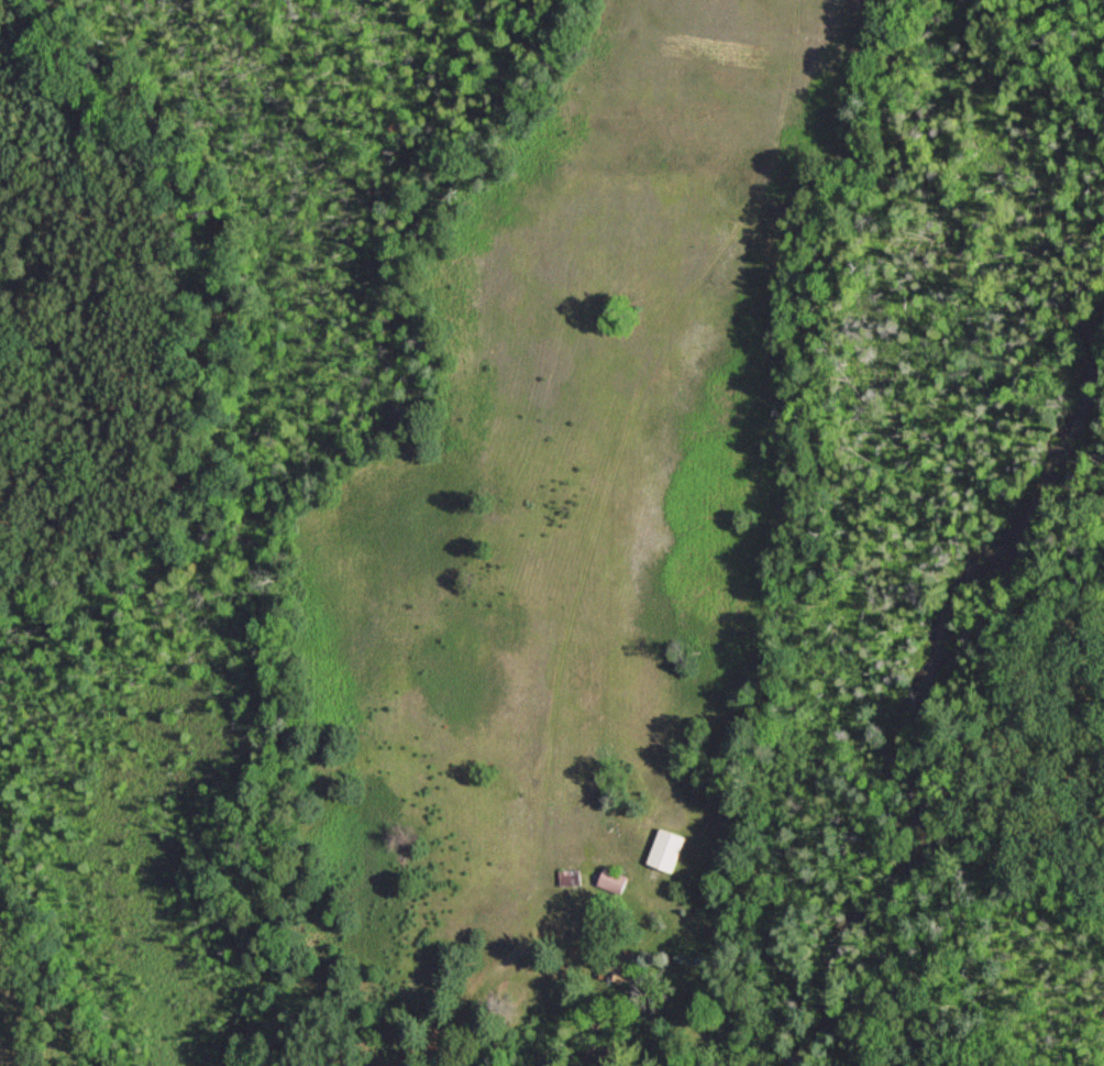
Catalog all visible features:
building: (670, 847)
building: (575, 876)
building: (618, 879)

